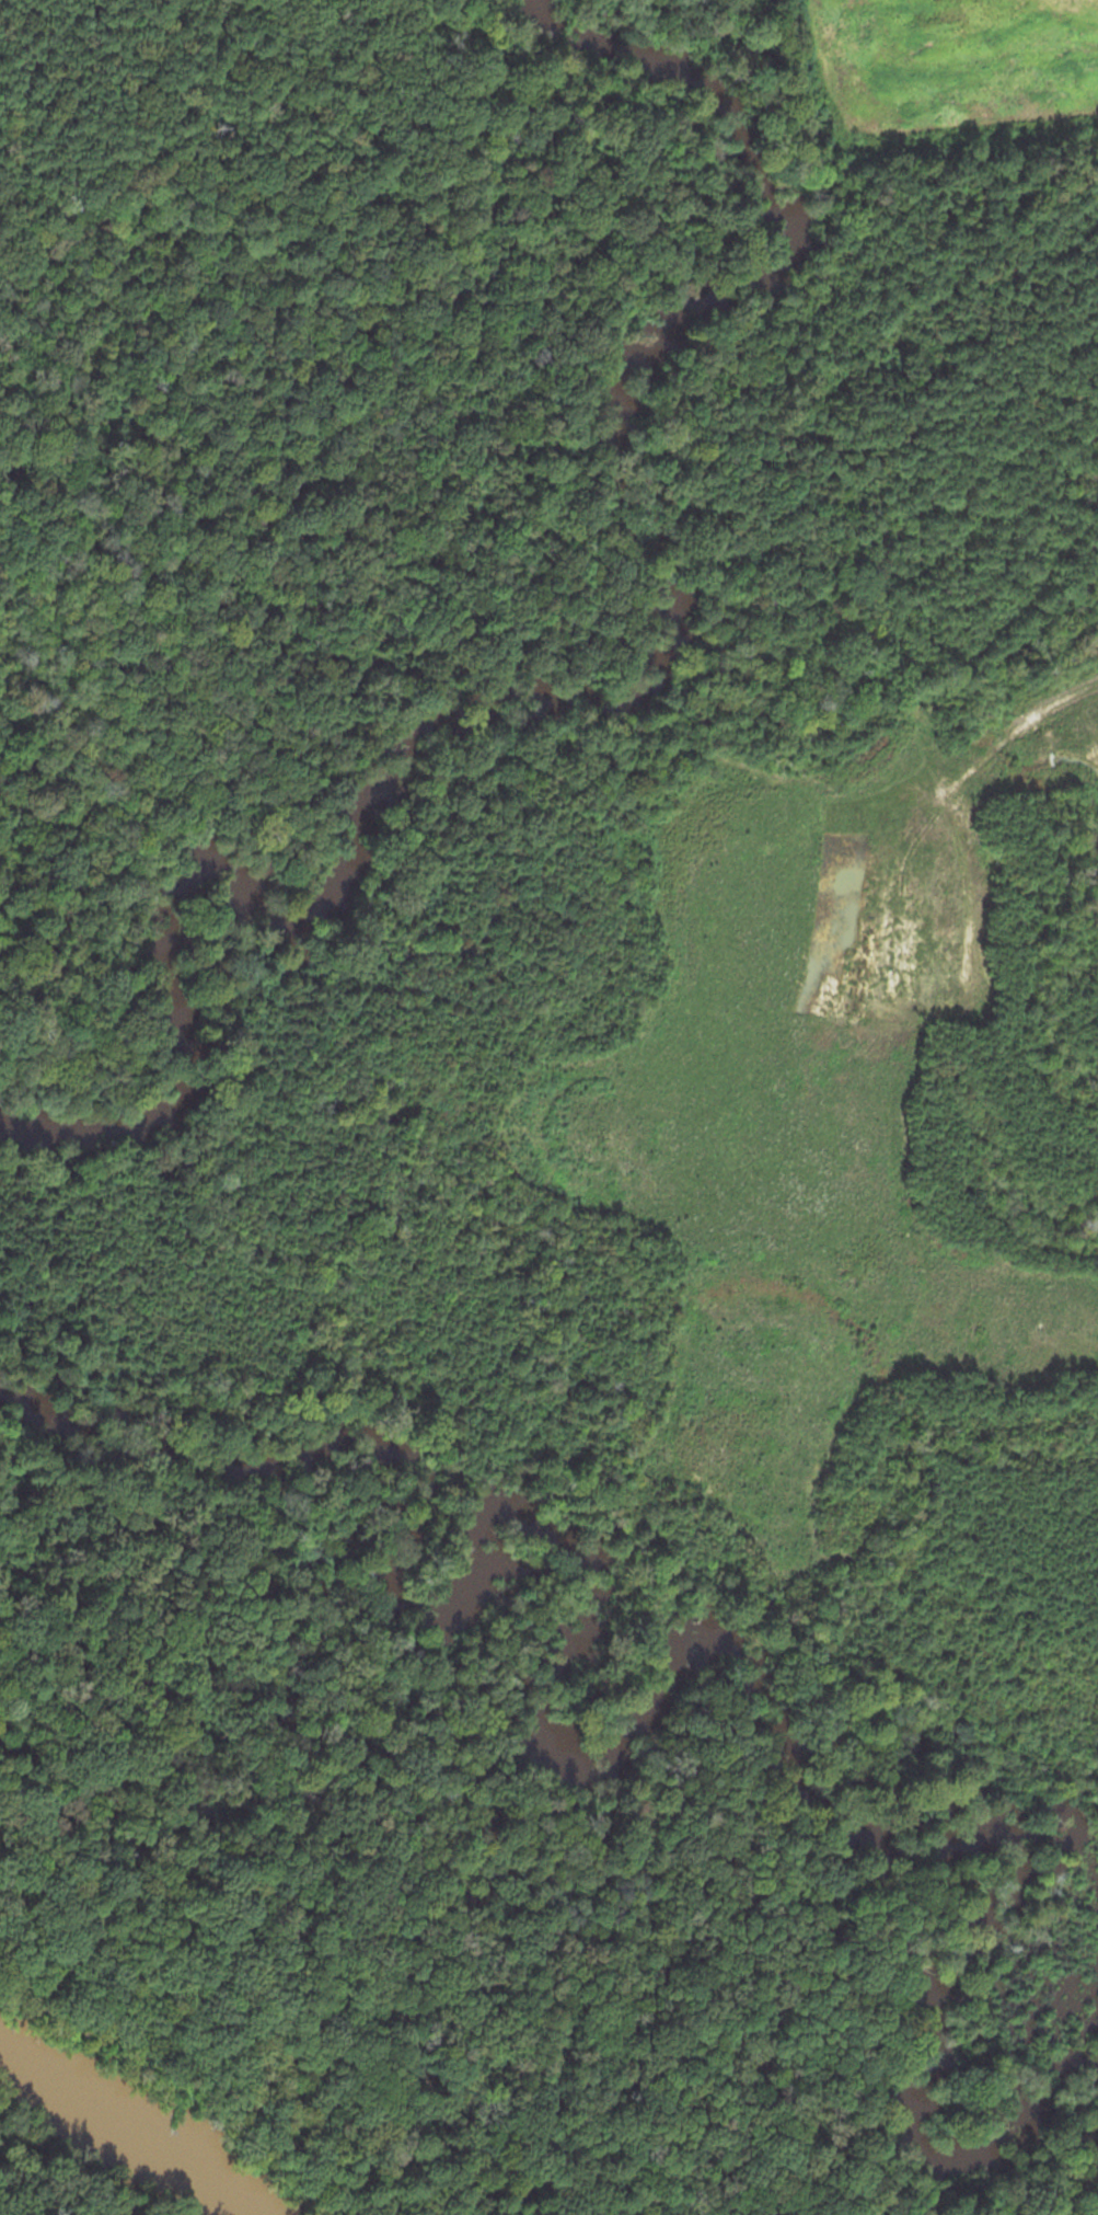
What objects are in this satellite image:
river: (118, 2135)

